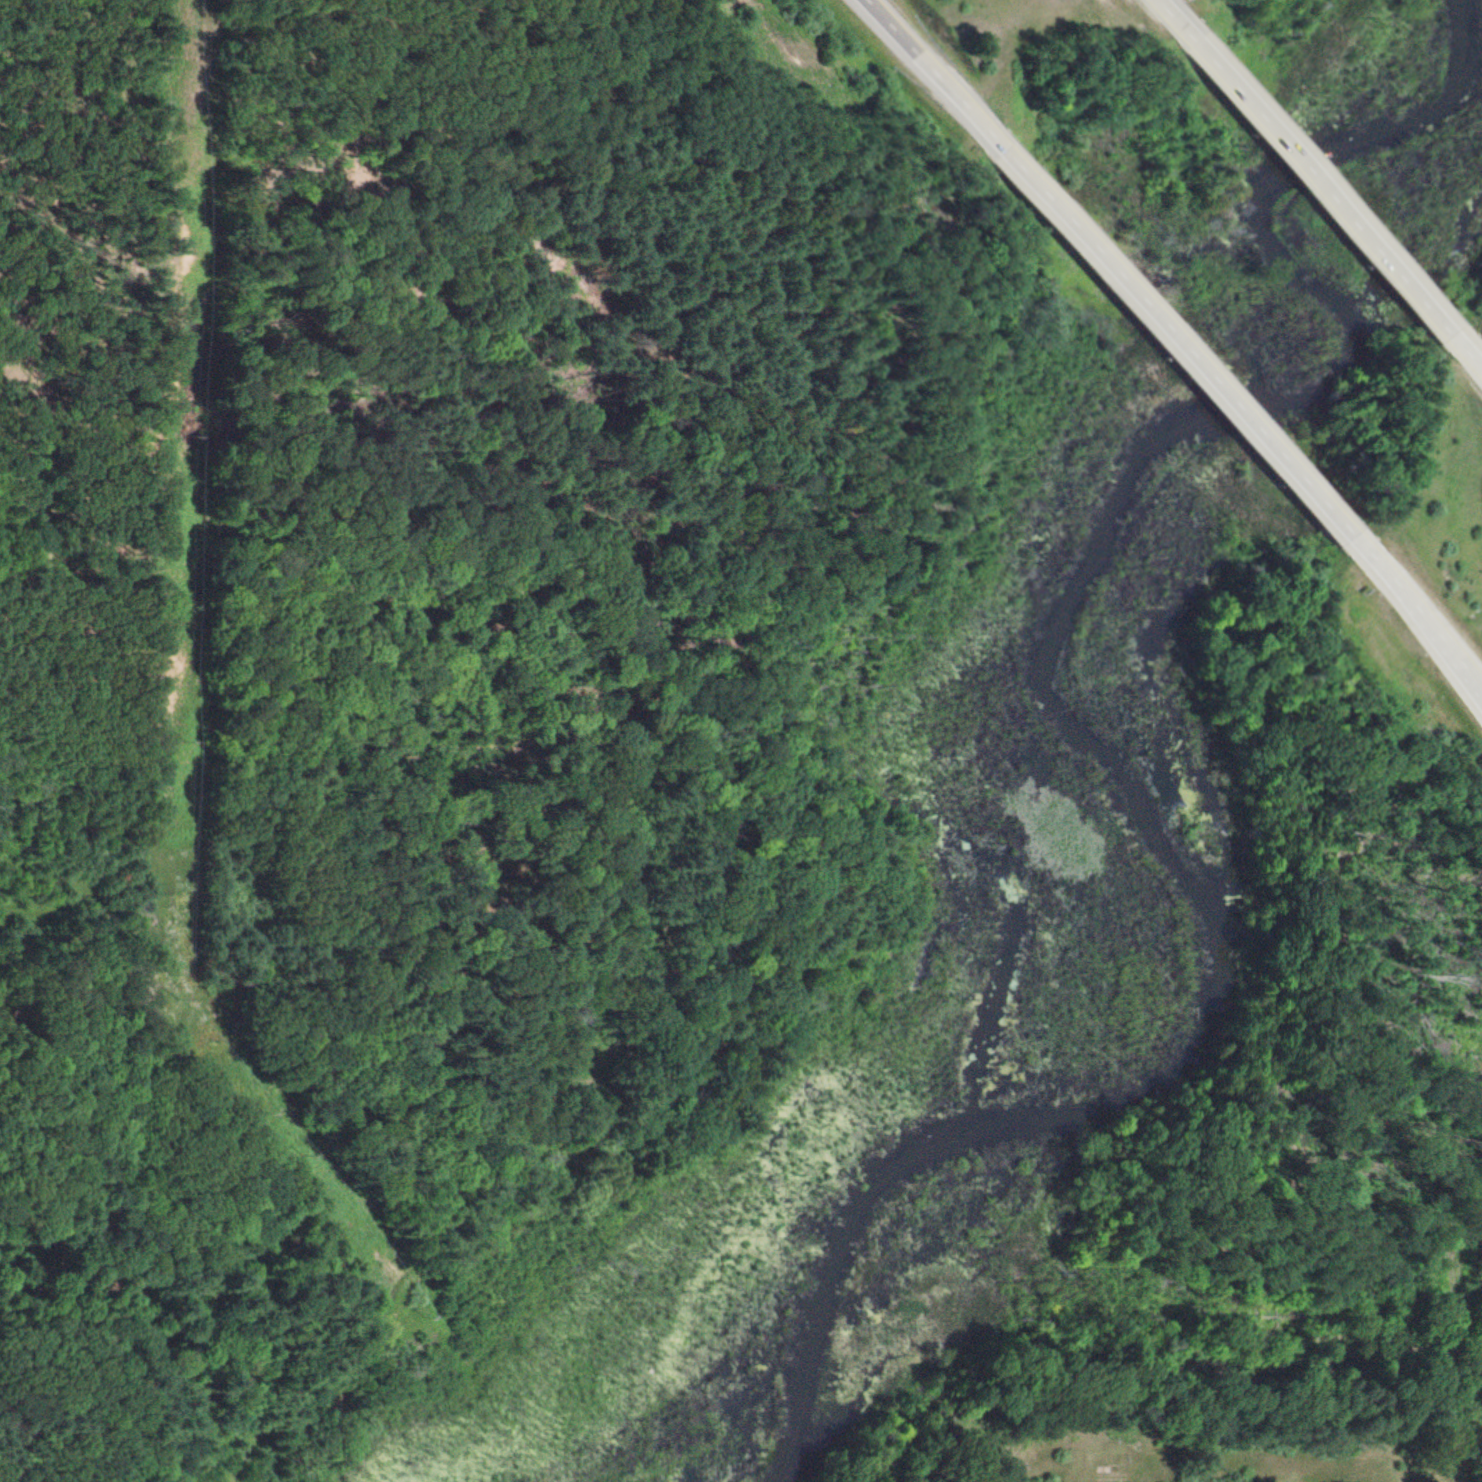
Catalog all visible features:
road: (883, 5)
road: (1325, 173)
road: (1157, 308)
road: (1451, 651)
road: (1477, 688)
river: (1064, 722)
road: (1267, 1436)

